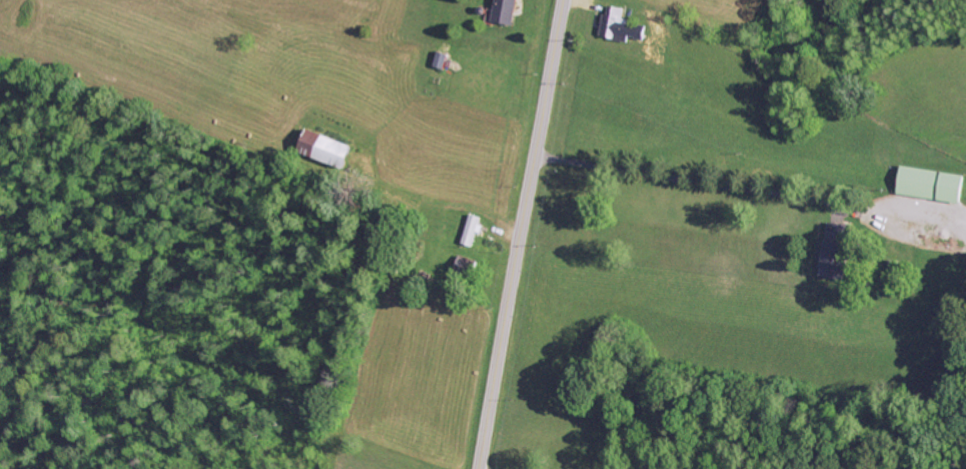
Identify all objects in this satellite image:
road: (800, 2)
building: (506, 12)
road: (605, 25)
building: (622, 27)
building: (443, 61)
building: (328, 150)
building: (933, 185)
building: (473, 230)
road: (520, 234)
building: (838, 252)
building: (465, 268)

